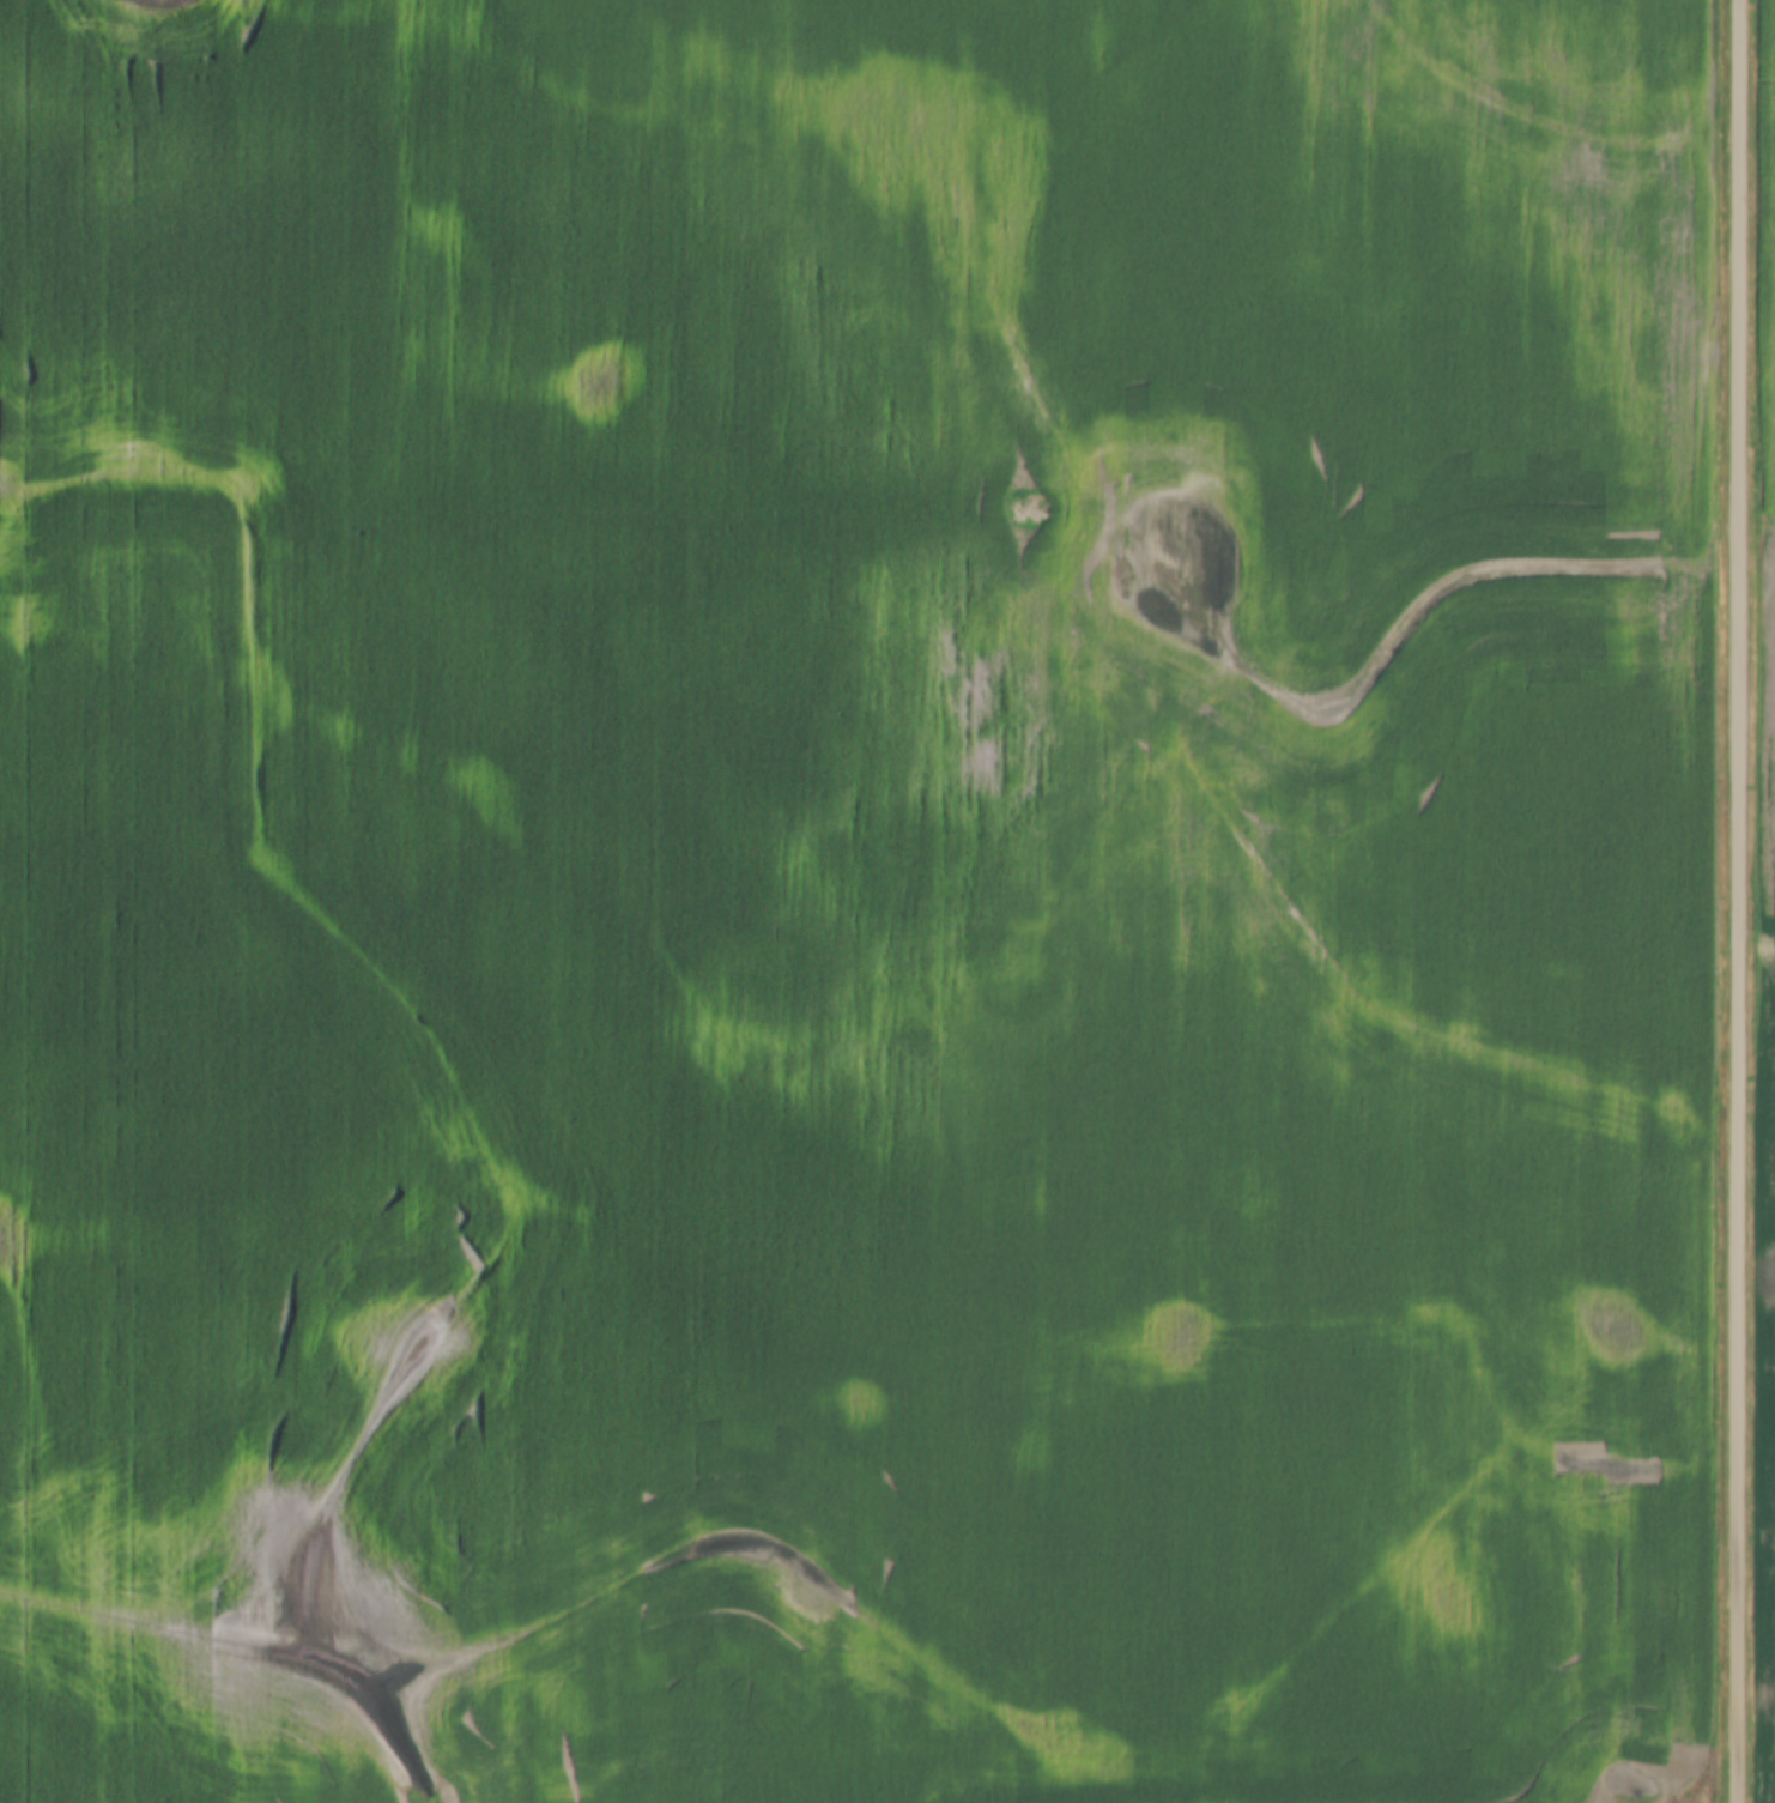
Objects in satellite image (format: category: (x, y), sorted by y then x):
road: (1739, 901)

